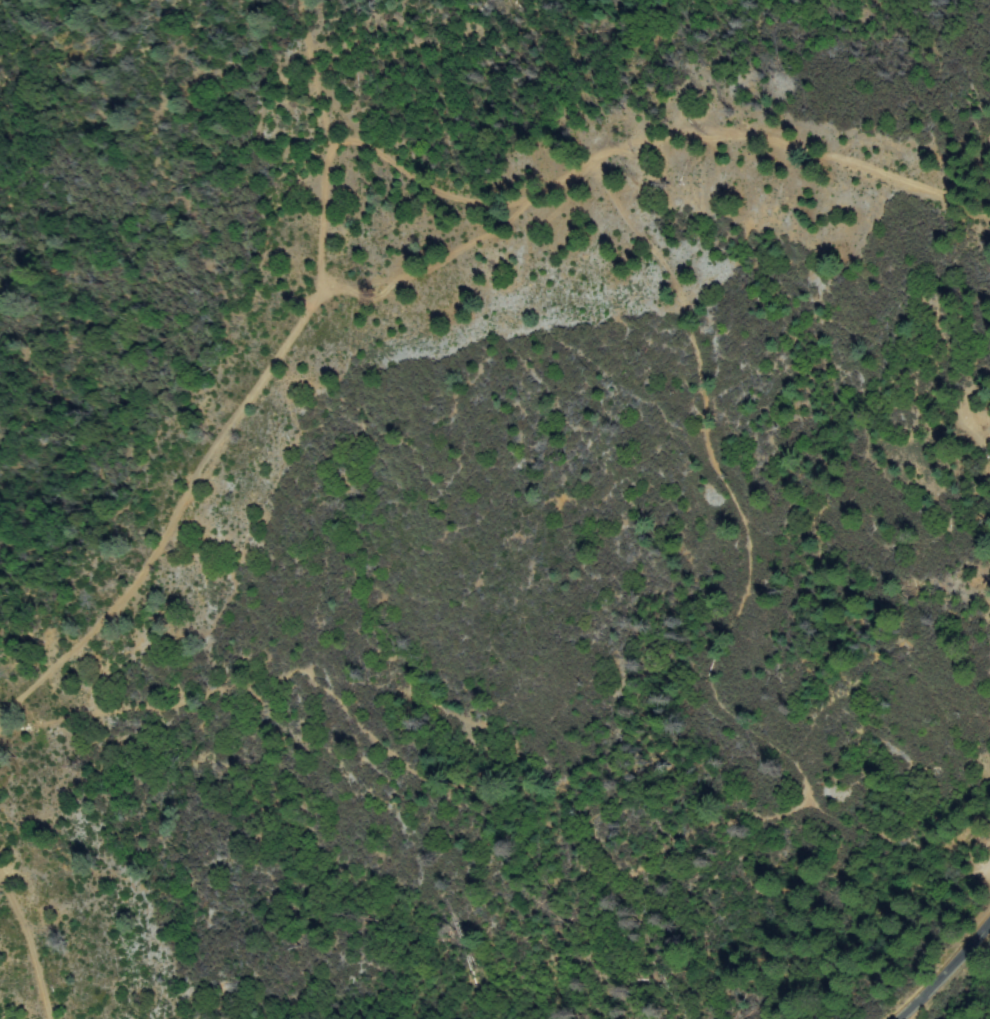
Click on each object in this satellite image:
road: (341, 150)
road: (20, 960)
road: (948, 974)

